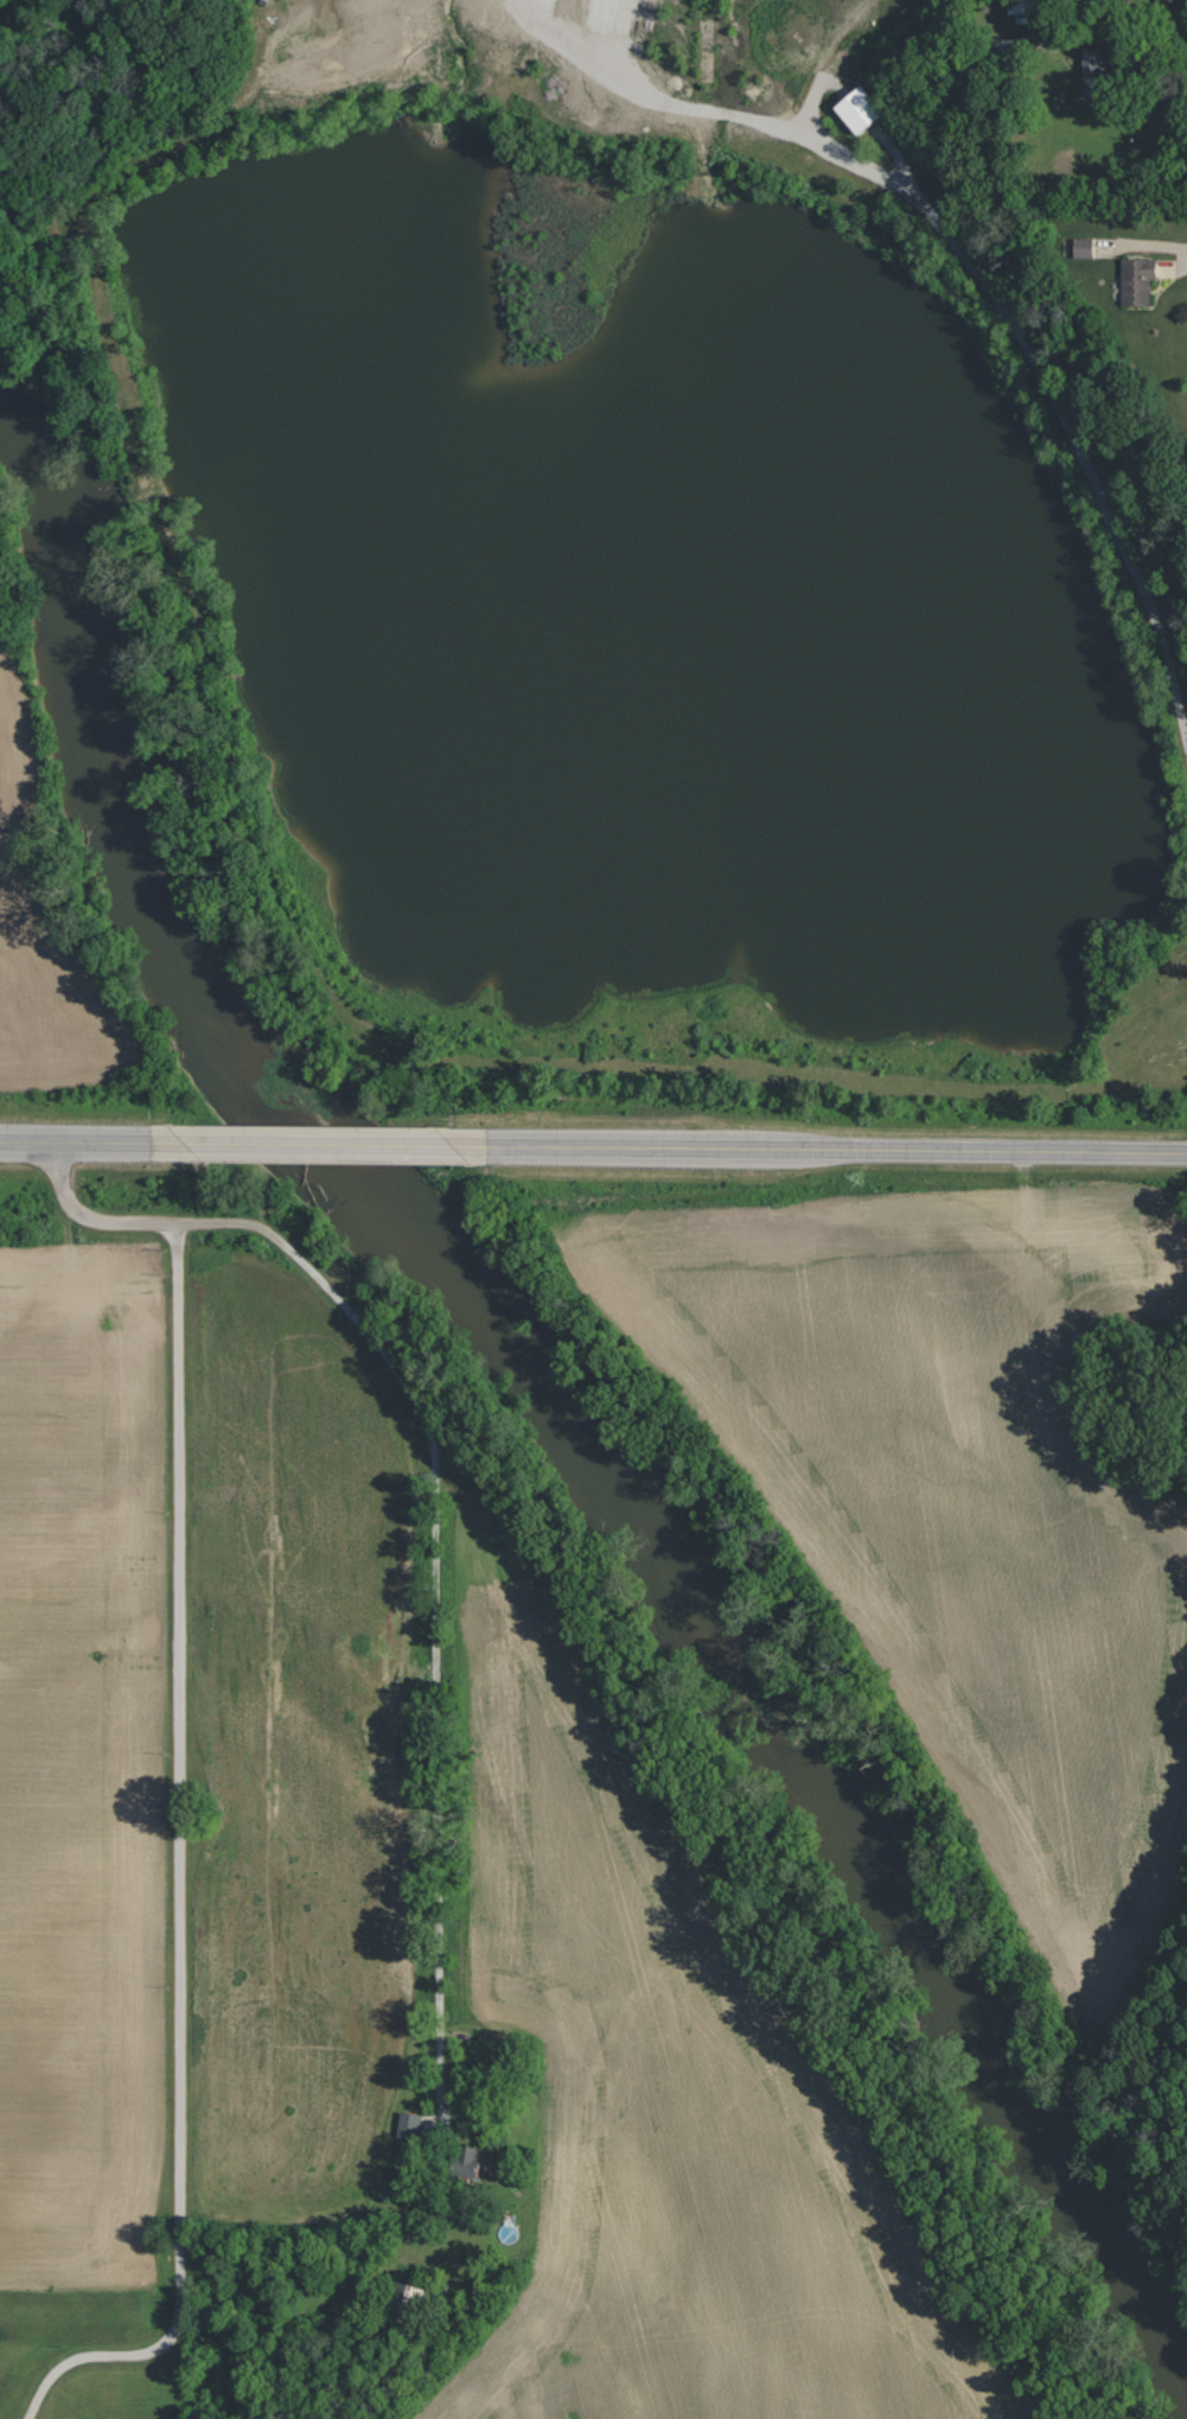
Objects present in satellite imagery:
road: (905, 44)
road: (1147, 44)
building: (1089, 70)
building: (856, 108)
building: (1083, 247)
building: (1136, 280)
road: (88, 1144)
road: (337, 1147)
road: (842, 1151)
river: (576, 1425)
road: (434, 1587)
road: (177, 1784)
building: (407, 2125)
building: (471, 2160)

